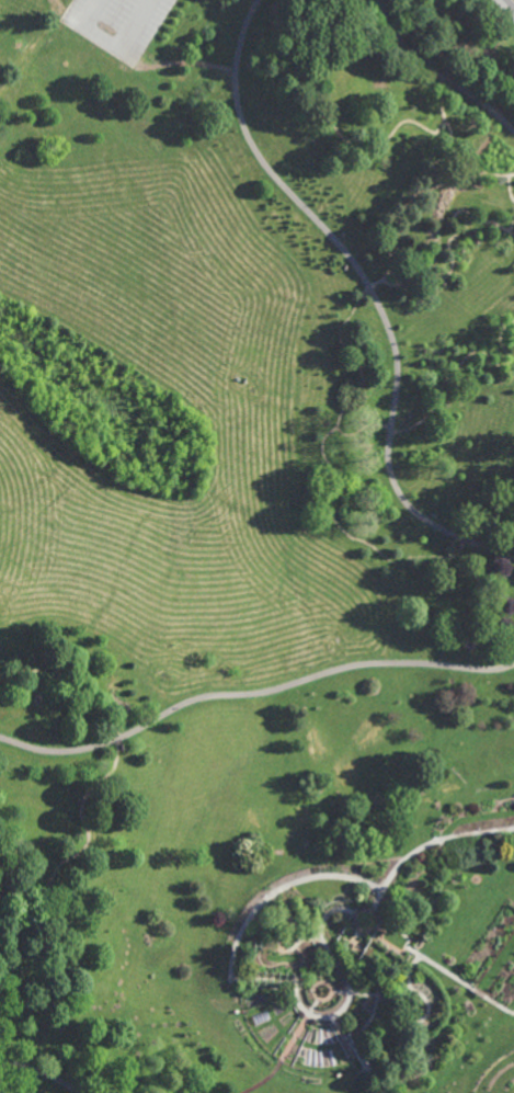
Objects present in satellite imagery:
road: (511, 2)
parking lot: (118, 23)
road: (113, 45)
road: (436, 73)
road: (330, 119)
road: (450, 133)
road: (423, 183)
road: (452, 269)
road: (370, 292)
road: (468, 355)
road: (334, 520)
park: (256, 546)
road: (68, 685)
road: (252, 694)
road: (88, 838)
road: (429, 844)
road: (279, 888)
building: (366, 920)
road: (381, 929)
road: (359, 931)
road: (404, 947)
road: (413, 950)
road: (331, 984)
road: (466, 984)
road: (342, 1010)
road: (373, 1015)
road: (413, 1021)
road: (297, 1032)
road: (343, 1040)
building: (358, 1051)
road: (43, 1072)

